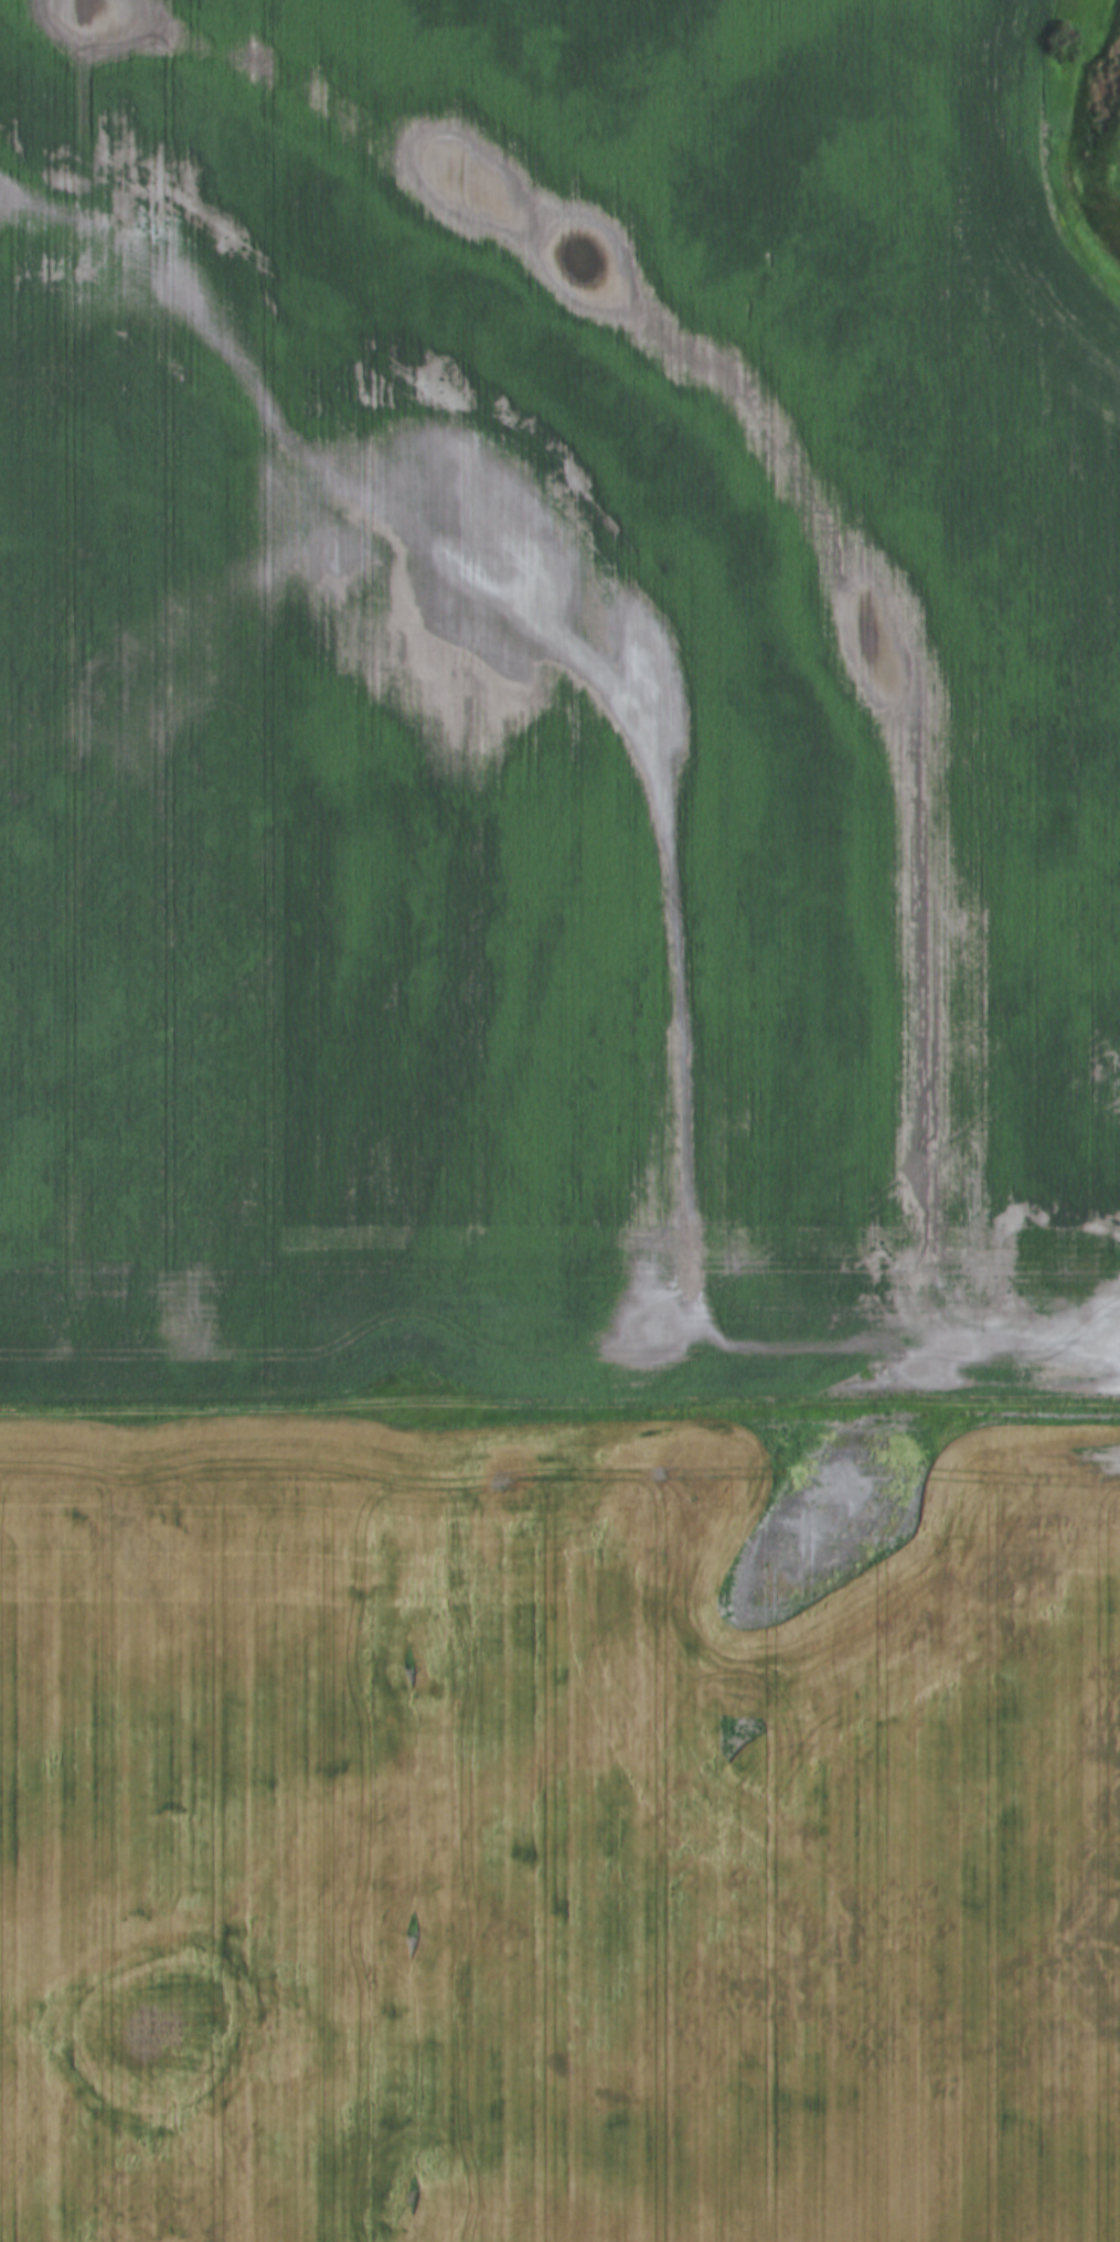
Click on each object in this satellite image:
road: (559, 1408)

